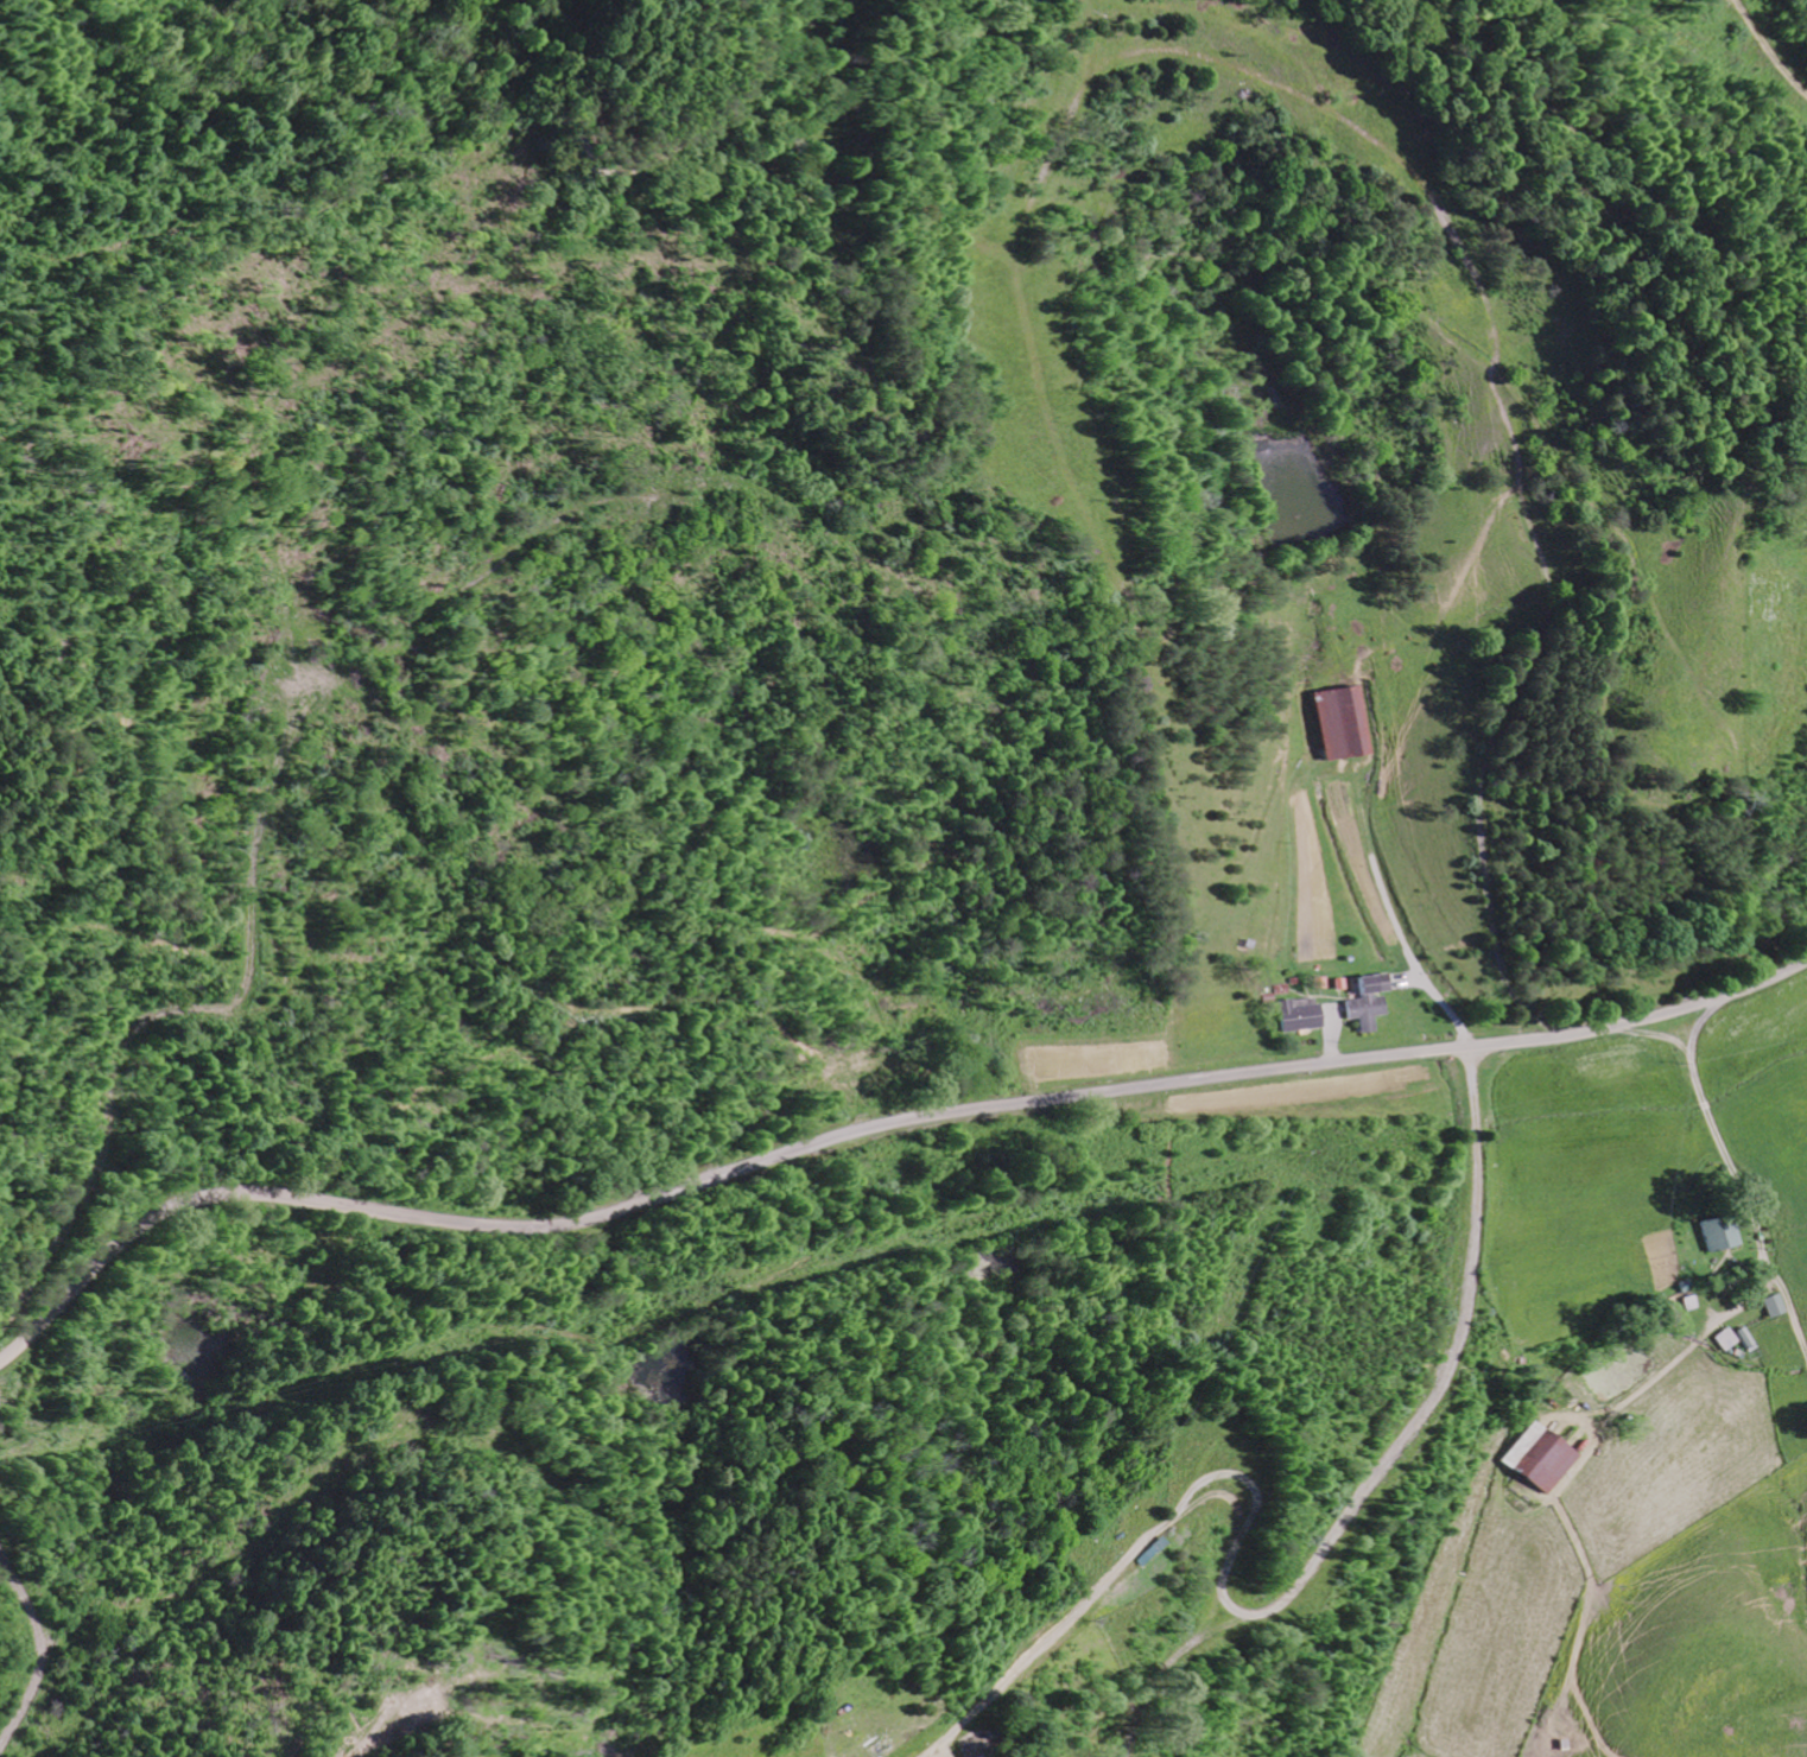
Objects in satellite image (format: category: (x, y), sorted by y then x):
building: (1334, 724)
building: (1365, 1006)
building: (1296, 1015)
road: (873, 1128)
building: (1714, 1232)
road: (1511, 1271)
building: (1770, 1305)
building: (1743, 1337)
building: (1723, 1339)
building: (1541, 1459)

